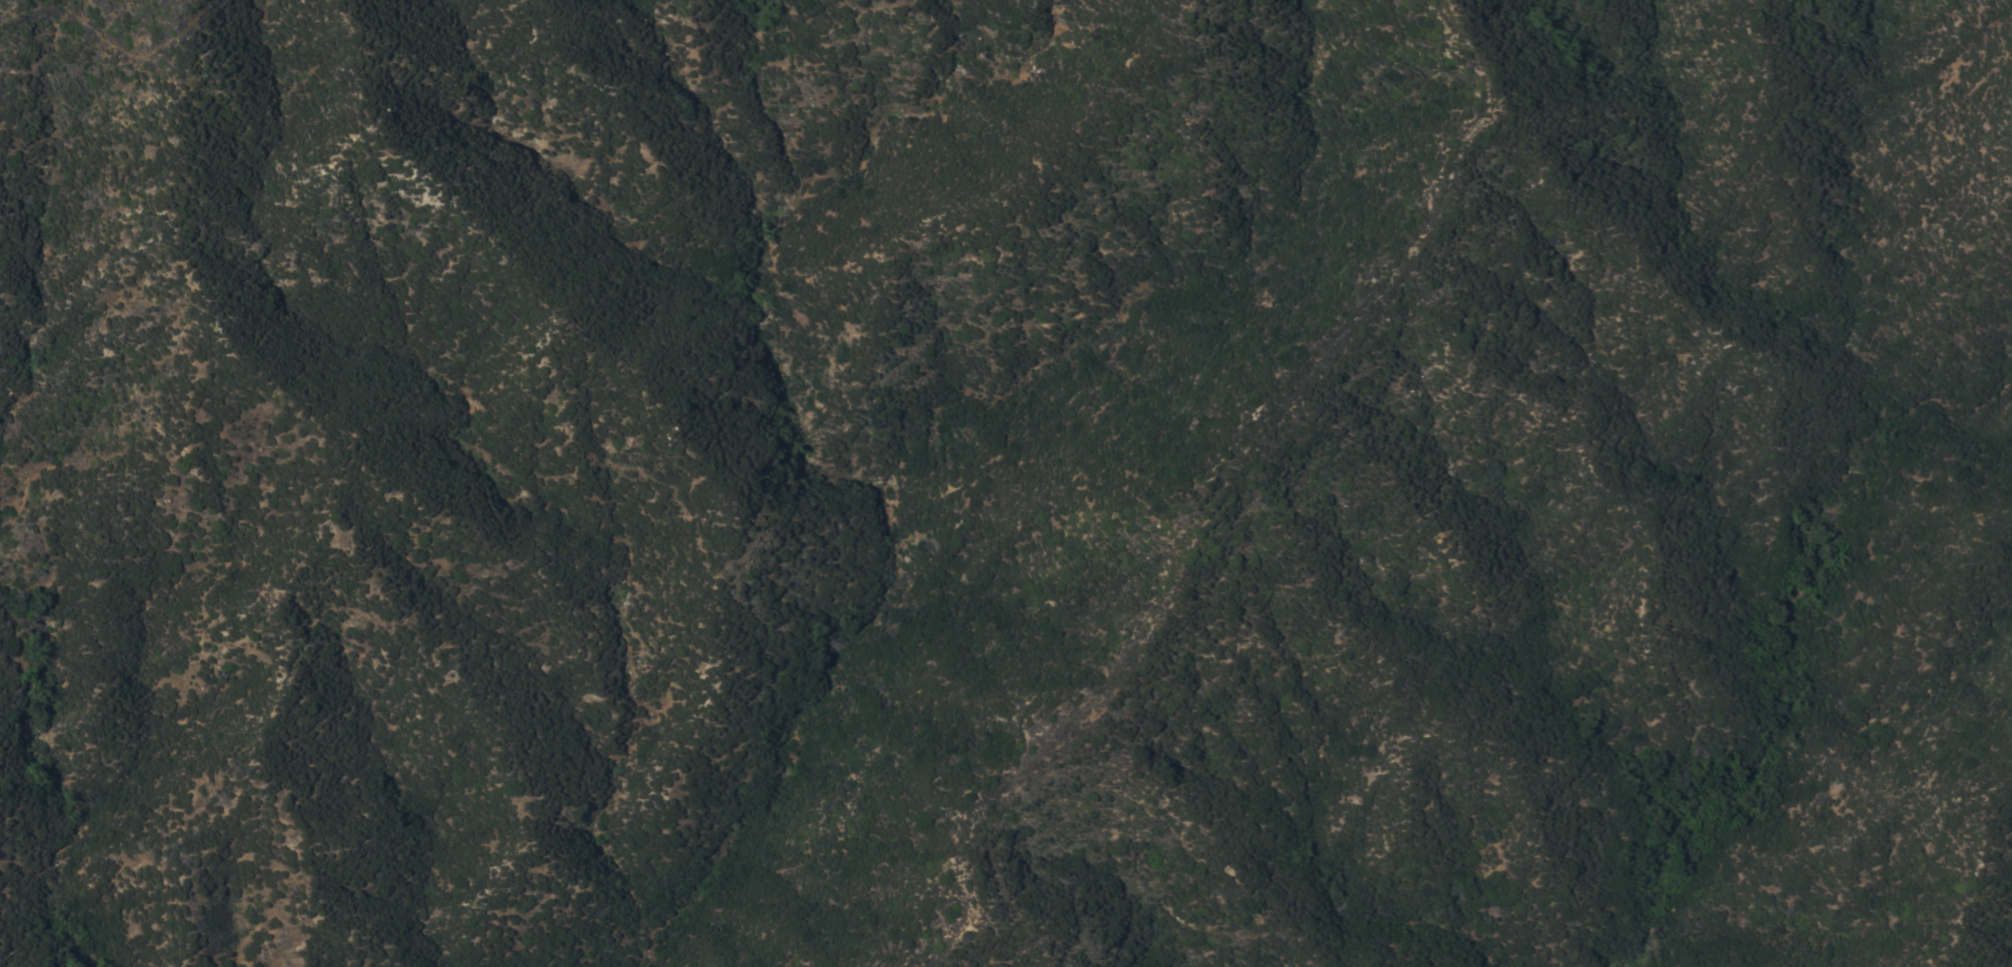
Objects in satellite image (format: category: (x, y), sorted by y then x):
road: (499, 564)

